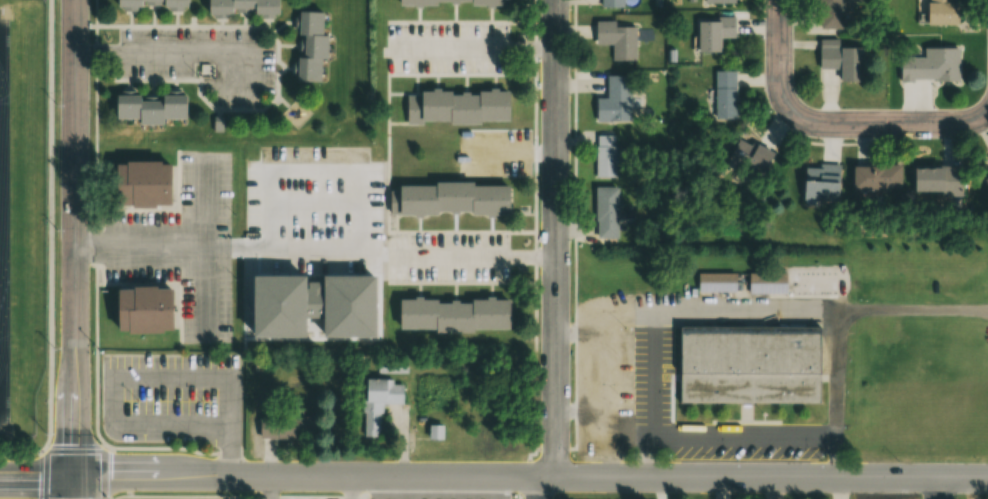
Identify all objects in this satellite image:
building: (718, 1)
building: (450, 2)
building: (612, 3)
building: (148, 4)
building: (240, 8)
building: (936, 11)
building: (829, 13)
building: (713, 32)
building: (616, 39)
building: (309, 46)
parking lot: (449, 48)
road: (480, 48)
road: (171, 52)
building: (840, 60)
building: (930, 65)
building: (725, 95)
building: (615, 101)
street lamp: (57, 104)
building: (456, 107)
building: (148, 109)
road: (831, 129)
road: (516, 150)
building: (606, 156)
building: (748, 158)
building: (876, 178)
building: (141, 179)
building: (937, 179)
building: (986, 182)
building: (821, 183)
building: (447, 199)
road: (360, 203)
building: (606, 212)
street lamp: (58, 228)
track: (5, 234)
road: (141, 241)
parking lot: (184, 246)
road: (207, 247)
road: (75, 249)
road: (555, 250)
road: (454, 253)
parking lot: (448, 257)
building: (715, 281)
building: (767, 282)
building: (145, 306)
building: (451, 314)
street lamp: (625, 323)
street lamp: (57, 347)
building: (747, 363)
road: (144, 371)
street lamp: (138, 397)
street lamp: (626, 397)
street lamp: (204, 398)
parking lot: (174, 399)
building: (377, 402)
building: (283, 428)
street lamp: (47, 431)
street lamp: (823, 455)
street lamp: (739, 456)
road: (493, 474)
traffic signals: (77, 476)
road: (939, 487)

